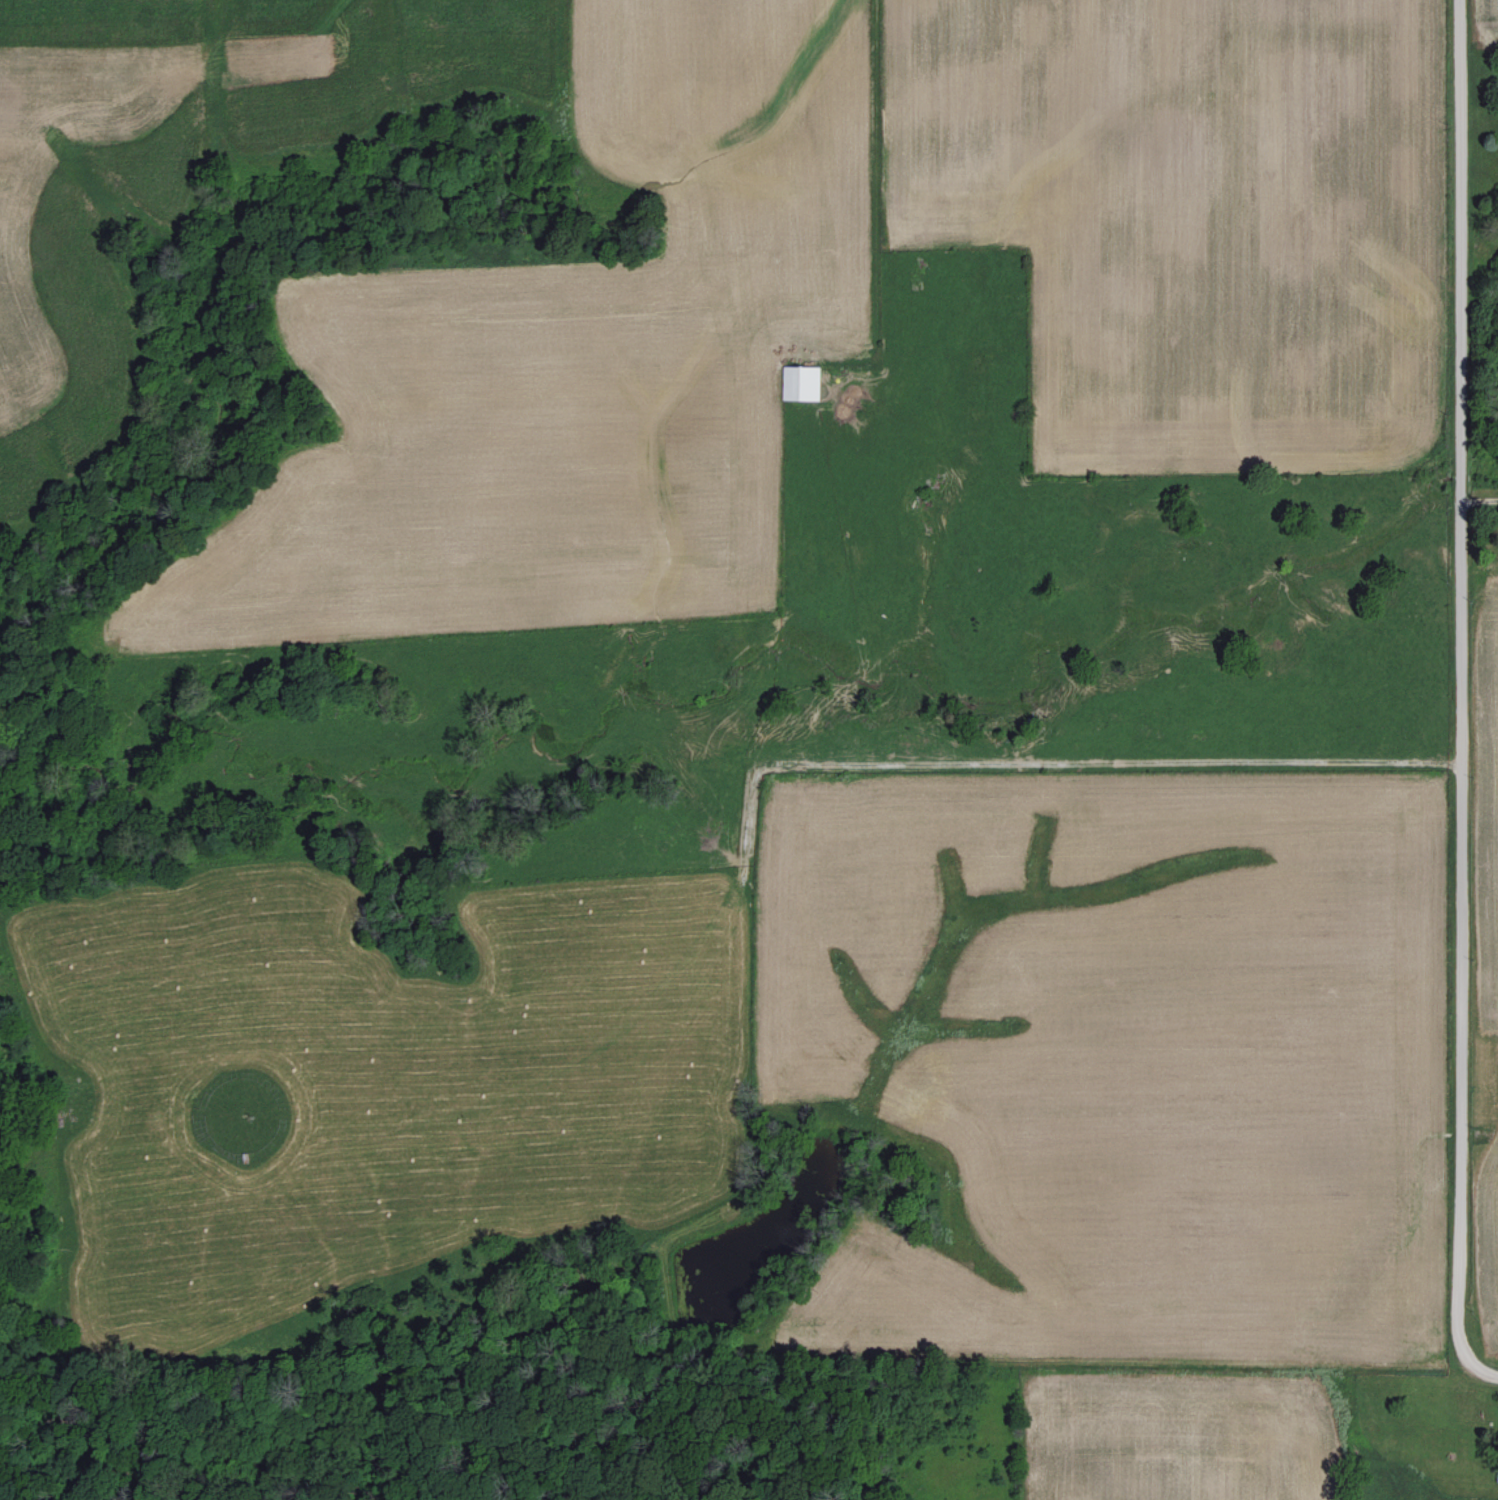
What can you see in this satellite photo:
building: (798, 383)
road: (1480, 501)
road: (1462, 684)
road: (1486, 1368)
building: (1497, 1422)

